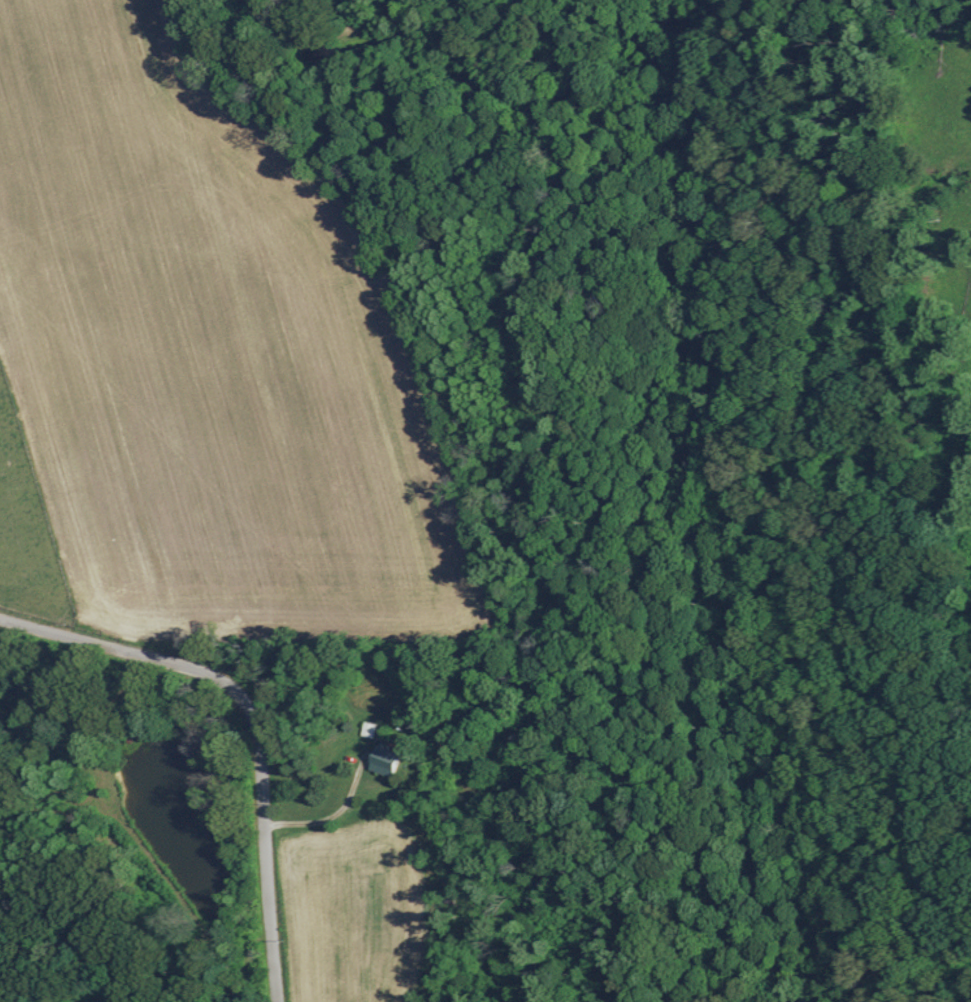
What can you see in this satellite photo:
road: (258, 719)
building: (381, 760)
road: (336, 817)

